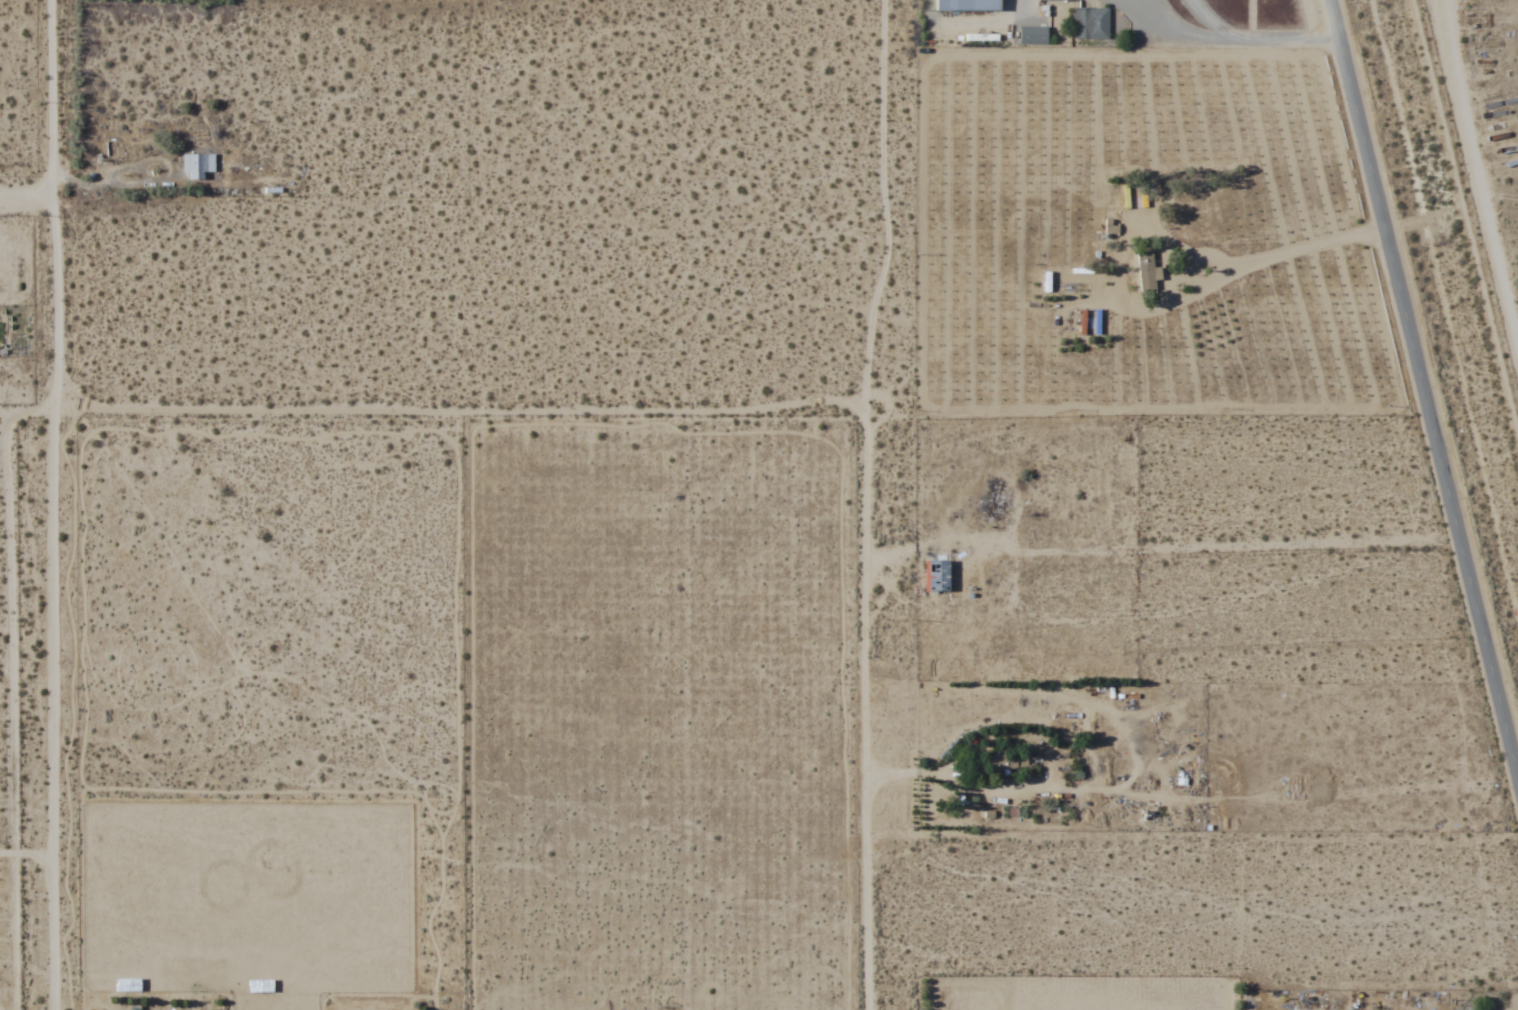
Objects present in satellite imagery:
building: (1063, 0)
building: (967, 5)
building: (1089, 23)
building: (1032, 35)
road: (52, 147)
building: (197, 166)
road: (26, 200)
building: (1146, 270)
building: (1156, 278)
road: (57, 354)
road: (1424, 388)
road: (863, 503)
building: (938, 574)
road: (13, 691)
building: (1000, 762)
building: (1180, 778)
building: (127, 984)
building: (260, 985)

